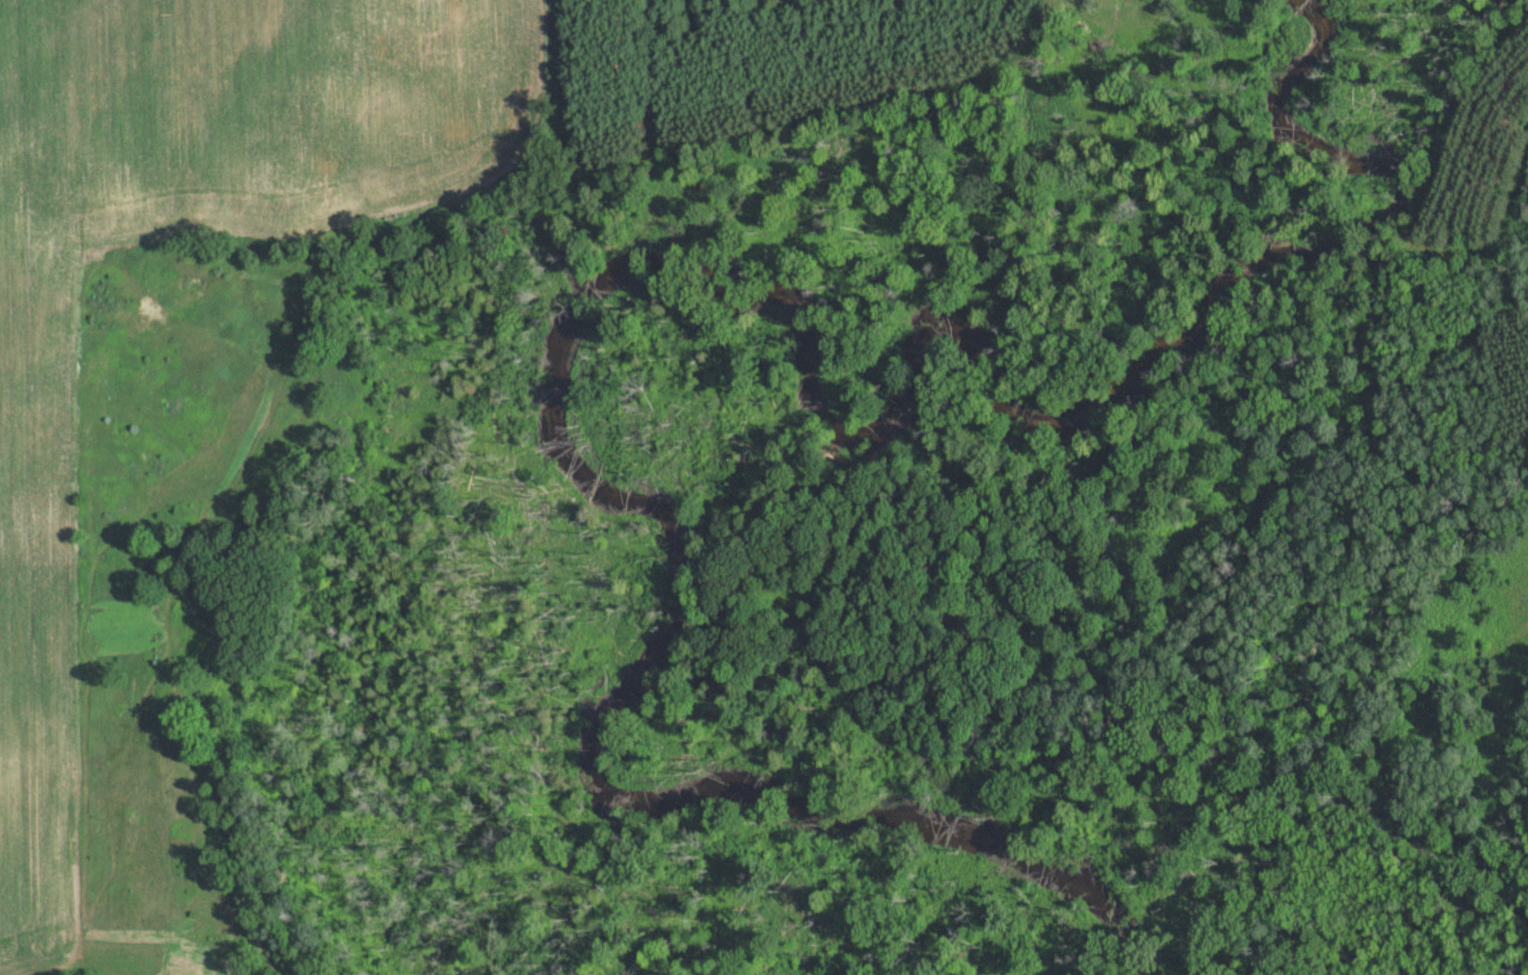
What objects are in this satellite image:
river: (685, 260)

